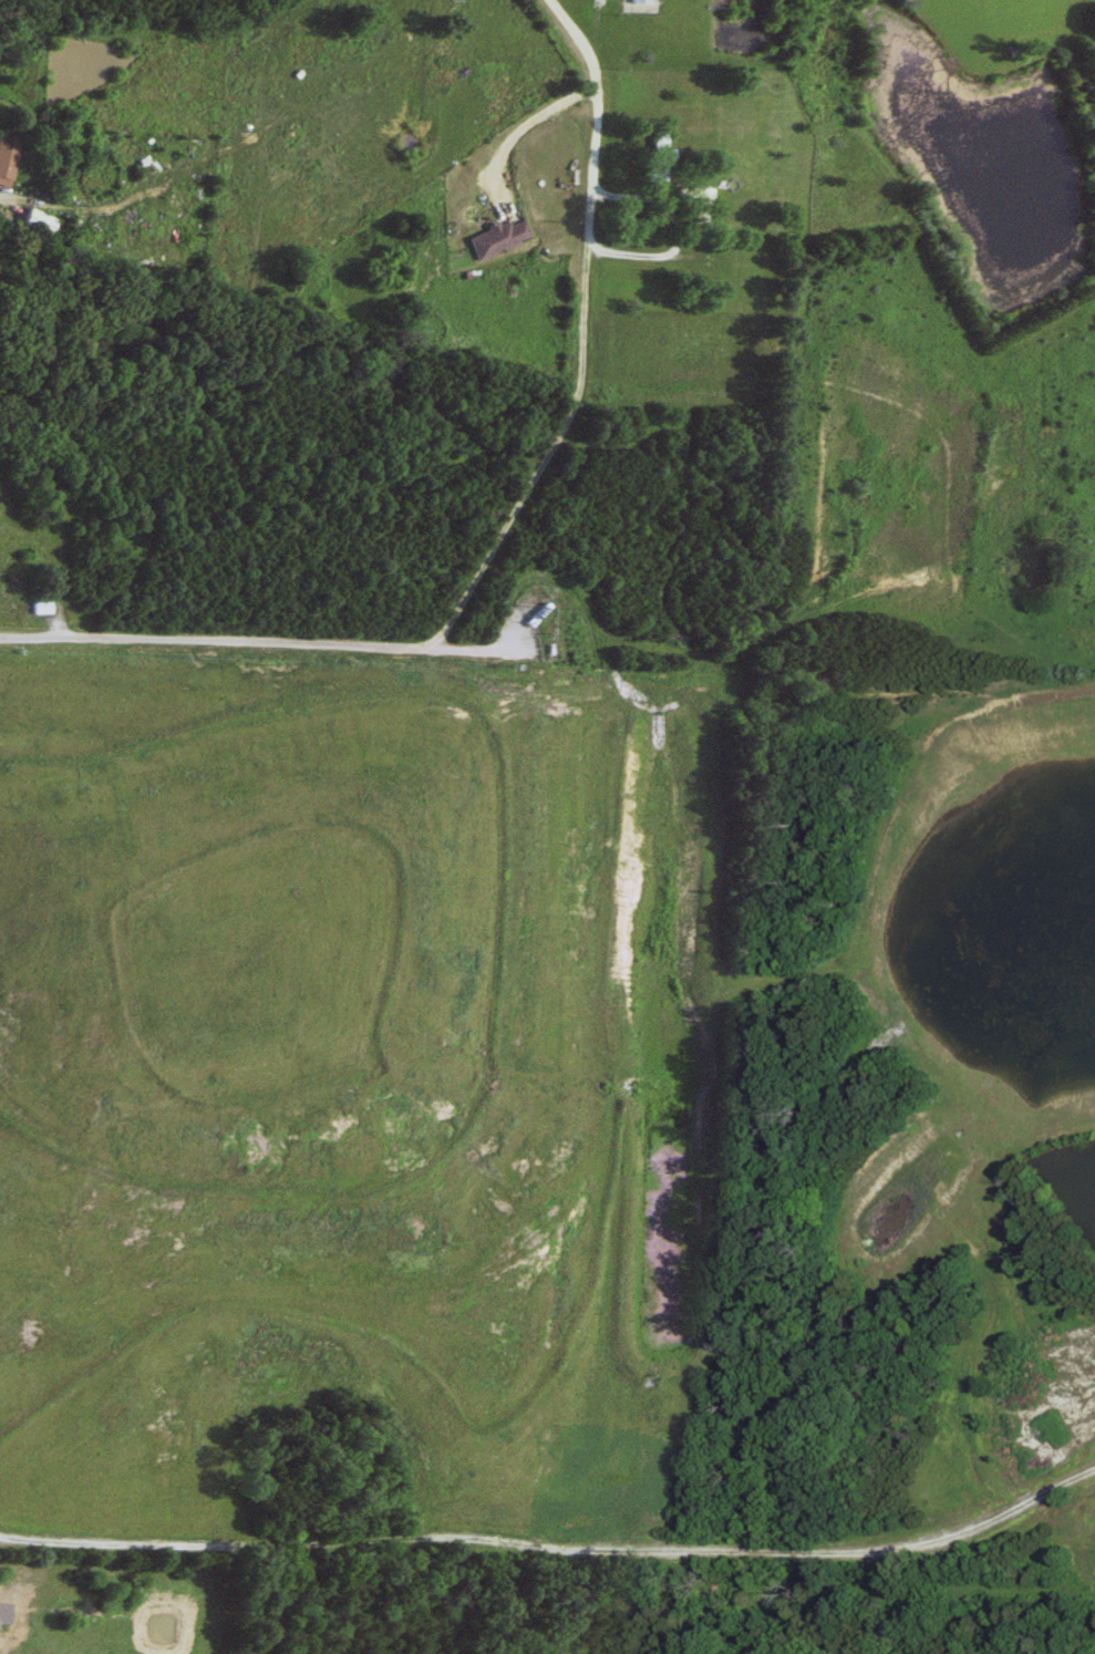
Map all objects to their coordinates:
building: (637, 1)
road: (592, 97)
road: (516, 127)
building: (7, 161)
building: (655, 162)
road: (2, 195)
building: (690, 197)
road: (585, 223)
building: (34, 224)
building: (499, 239)
building: (37, 609)
road: (432, 635)
road: (477, 648)
road: (555, 1542)

